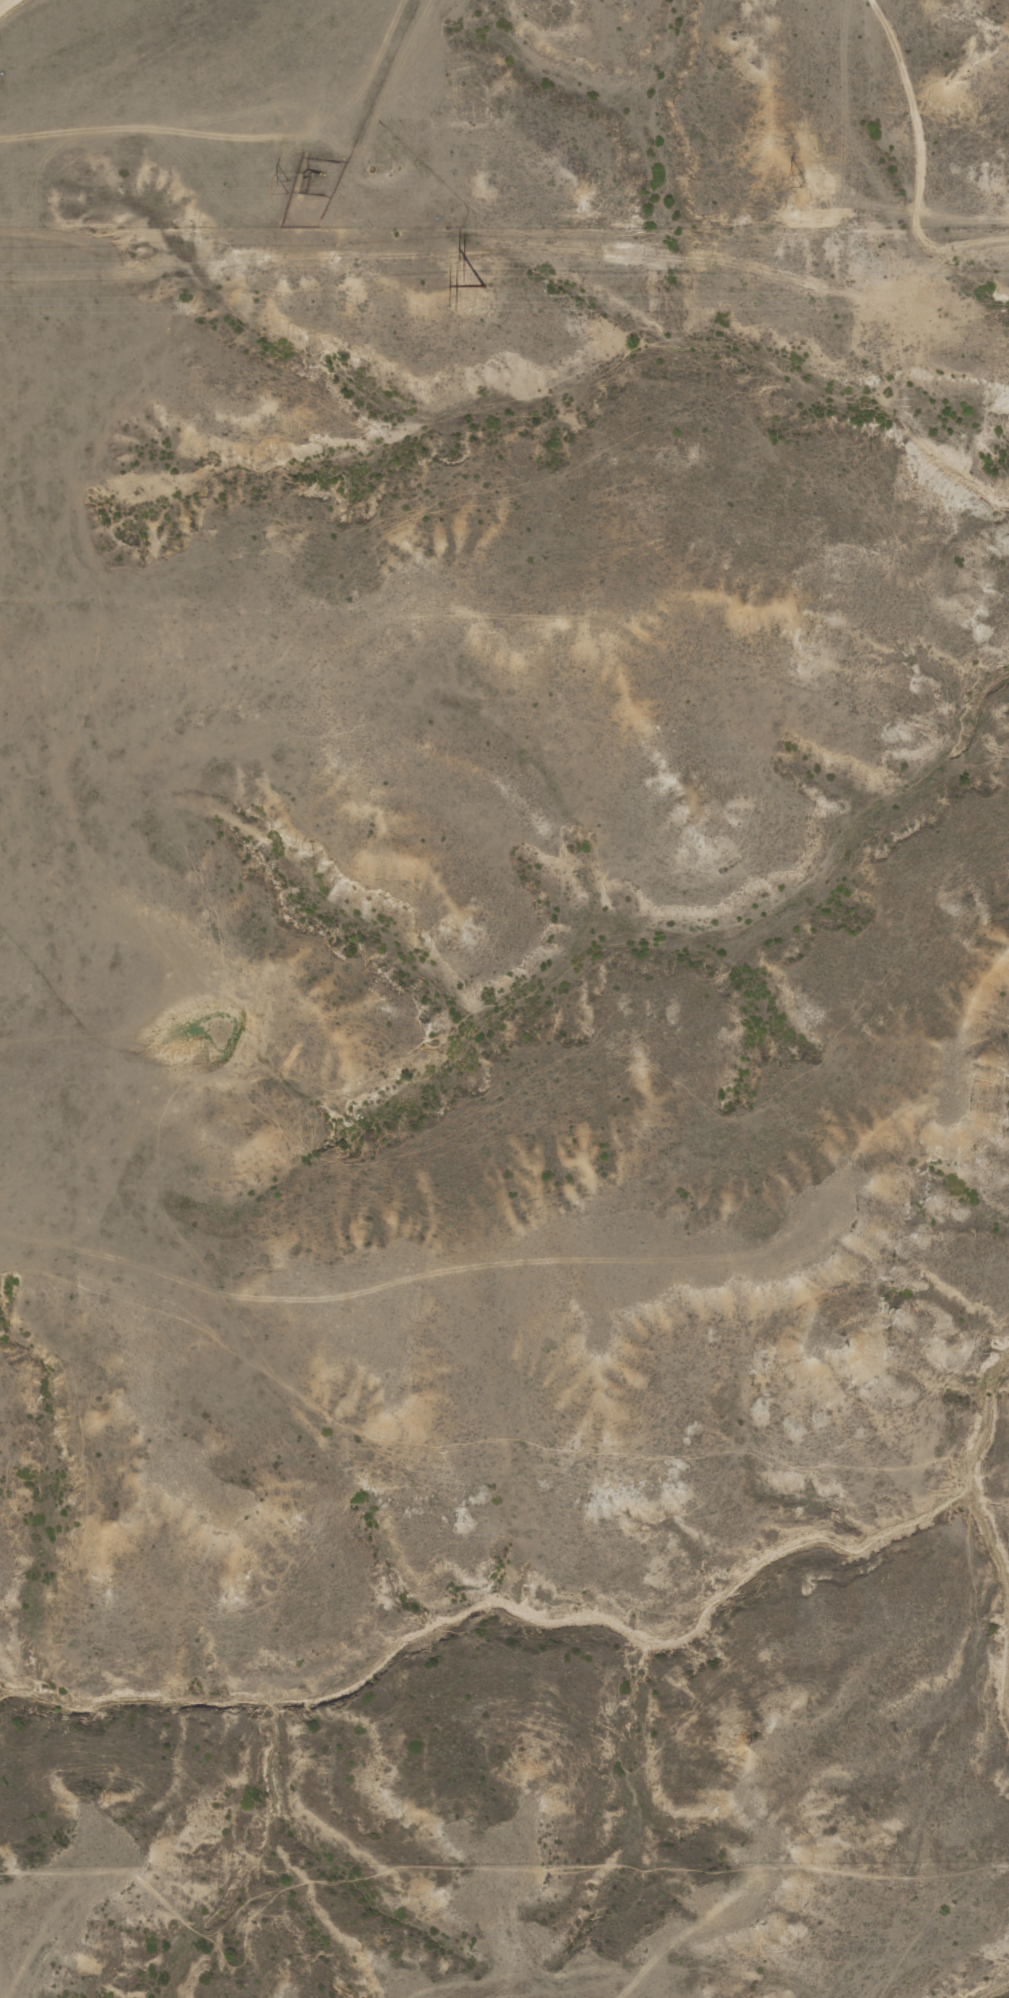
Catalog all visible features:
road: (10, 10)
power tower: (803, 179)
road: (949, 179)
power tower: (285, 186)
power tower: (485, 286)

